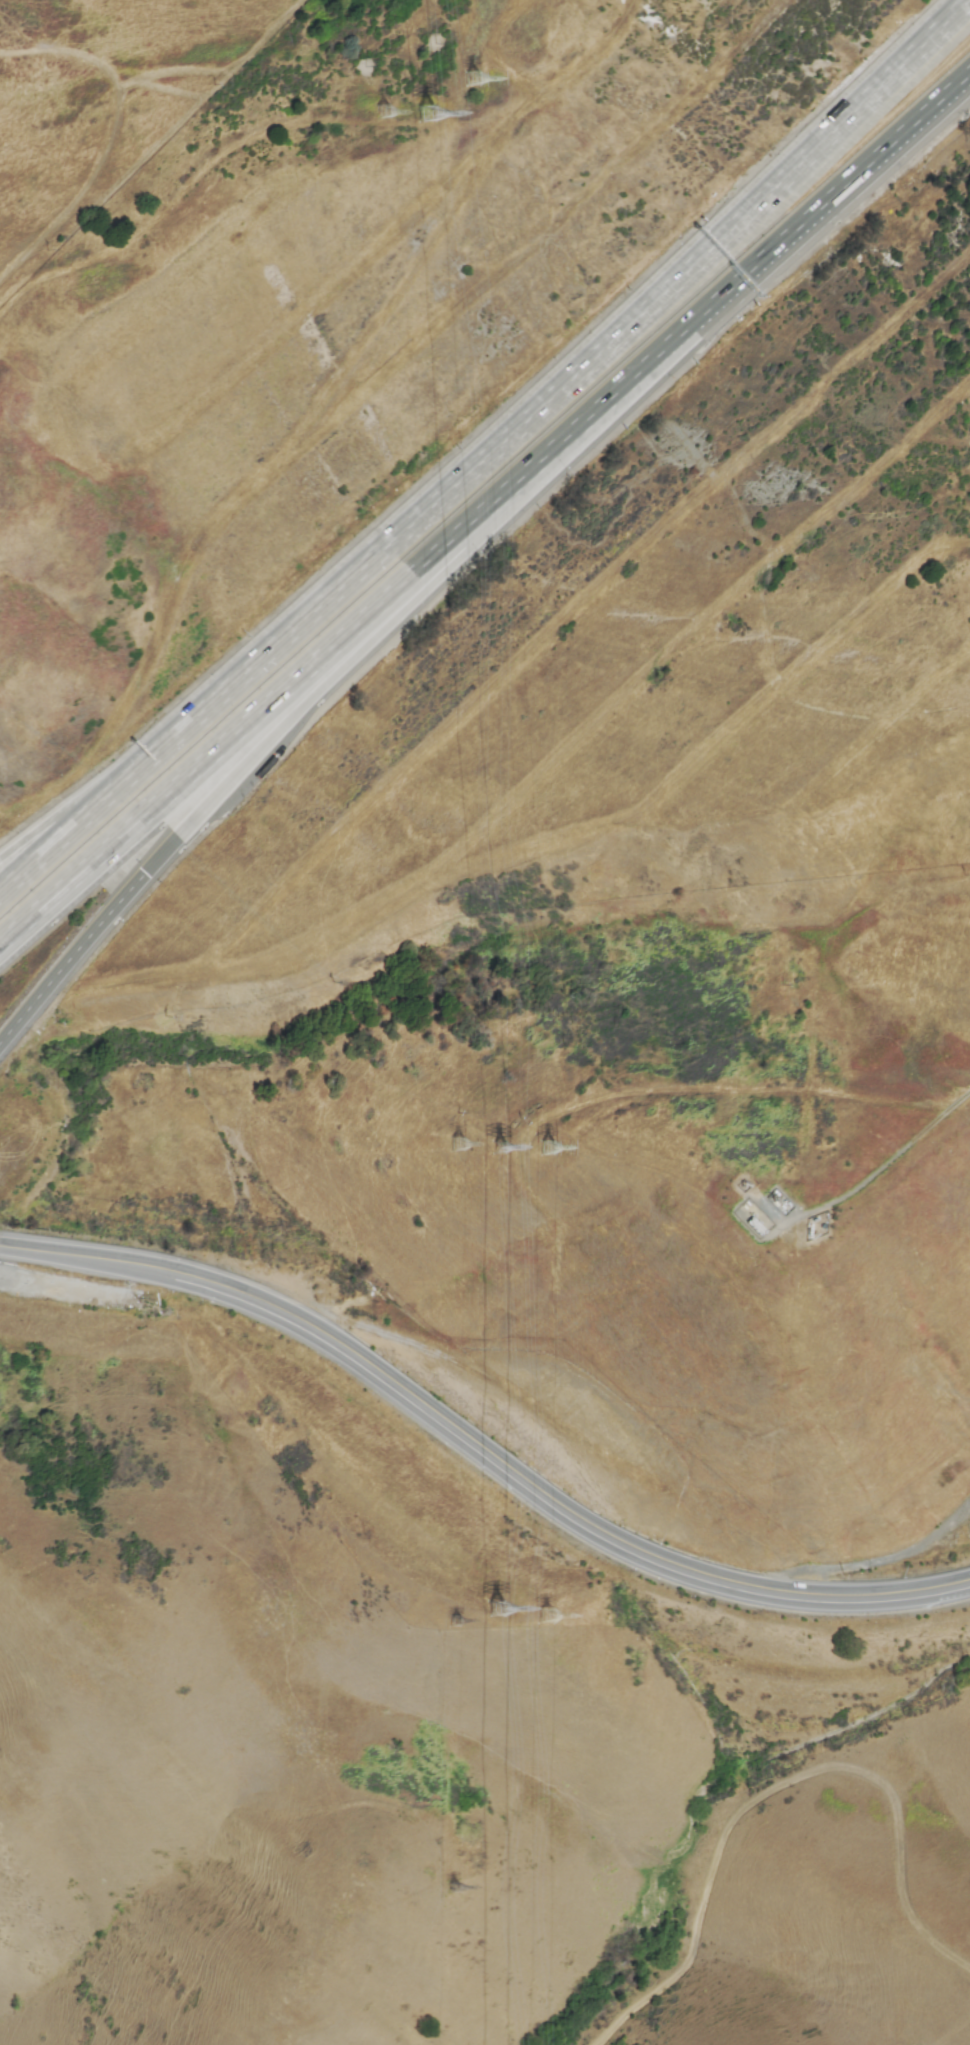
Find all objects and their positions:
power tower: (467, 80)
power tower: (375, 113)
power tower: (416, 116)
road: (809, 155)
road: (855, 180)
road: (381, 549)
road: (581, 608)
road: (370, 613)
road: (604, 710)
road: (269, 732)
road: (720, 747)
road: (820, 776)
road: (57, 827)
road: (57, 840)
street lamp: (136, 861)
road: (70, 959)
road: (120, 988)
road: (729, 1090)
power tower: (456, 1144)
power tower: (493, 1146)
power tower: (543, 1147)
road: (885, 1167)
street lamp: (35, 1229)
road: (50, 1256)
road: (521, 1477)
power tower: (500, 1607)
power tower: (541, 1612)
power tower: (450, 1621)
road: (786, 1786)

